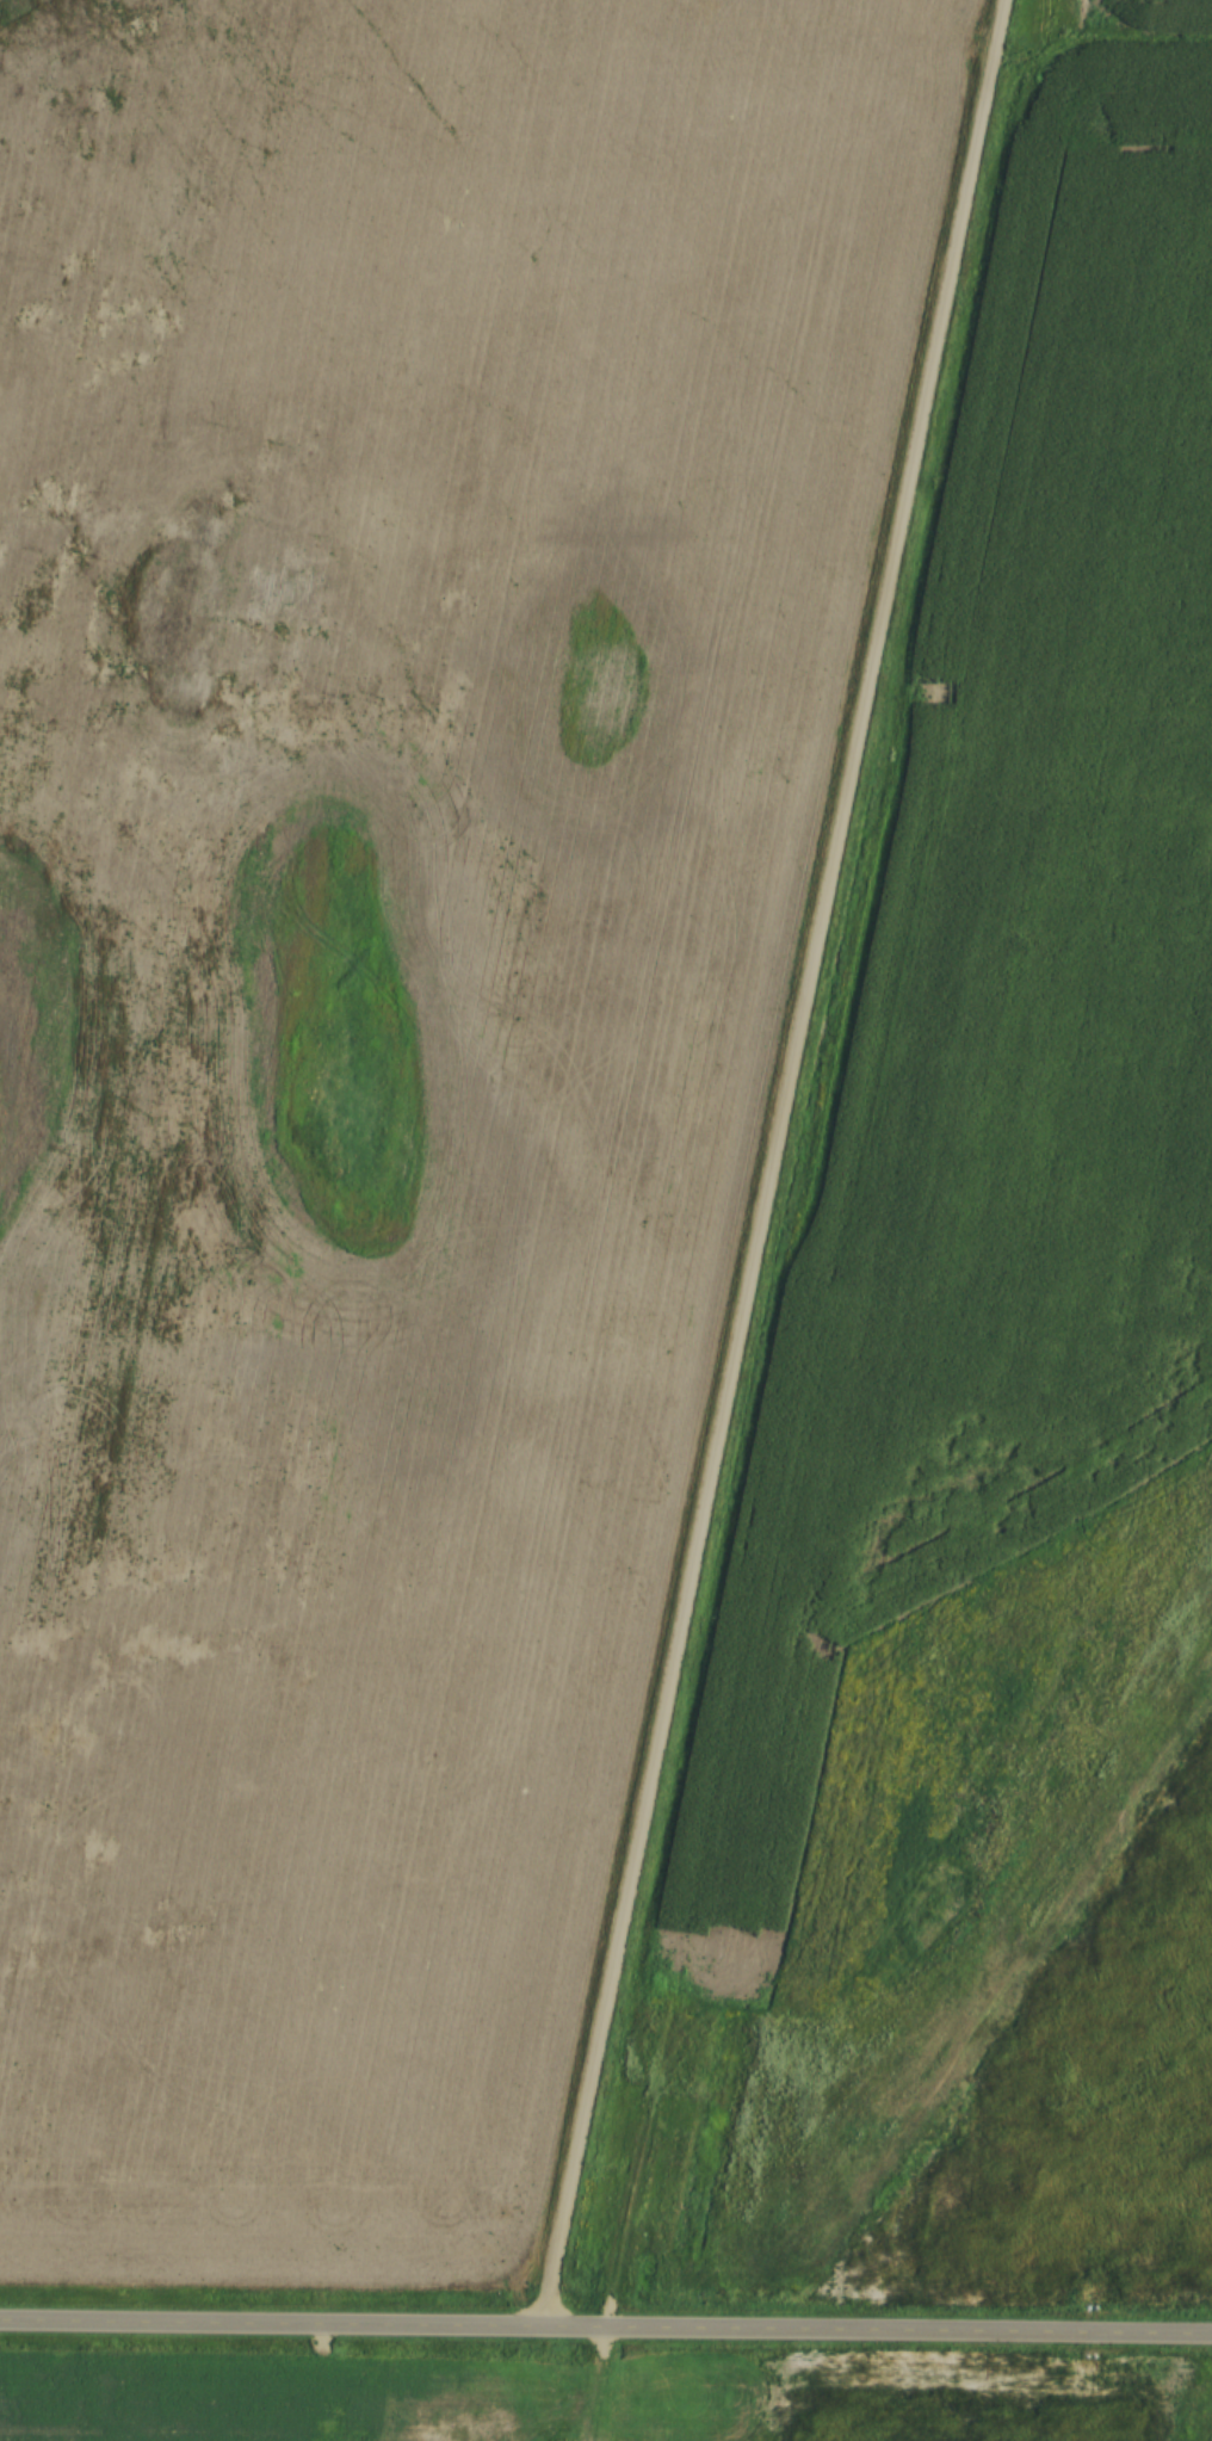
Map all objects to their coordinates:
road: (772, 1164)
road: (606, 2329)

